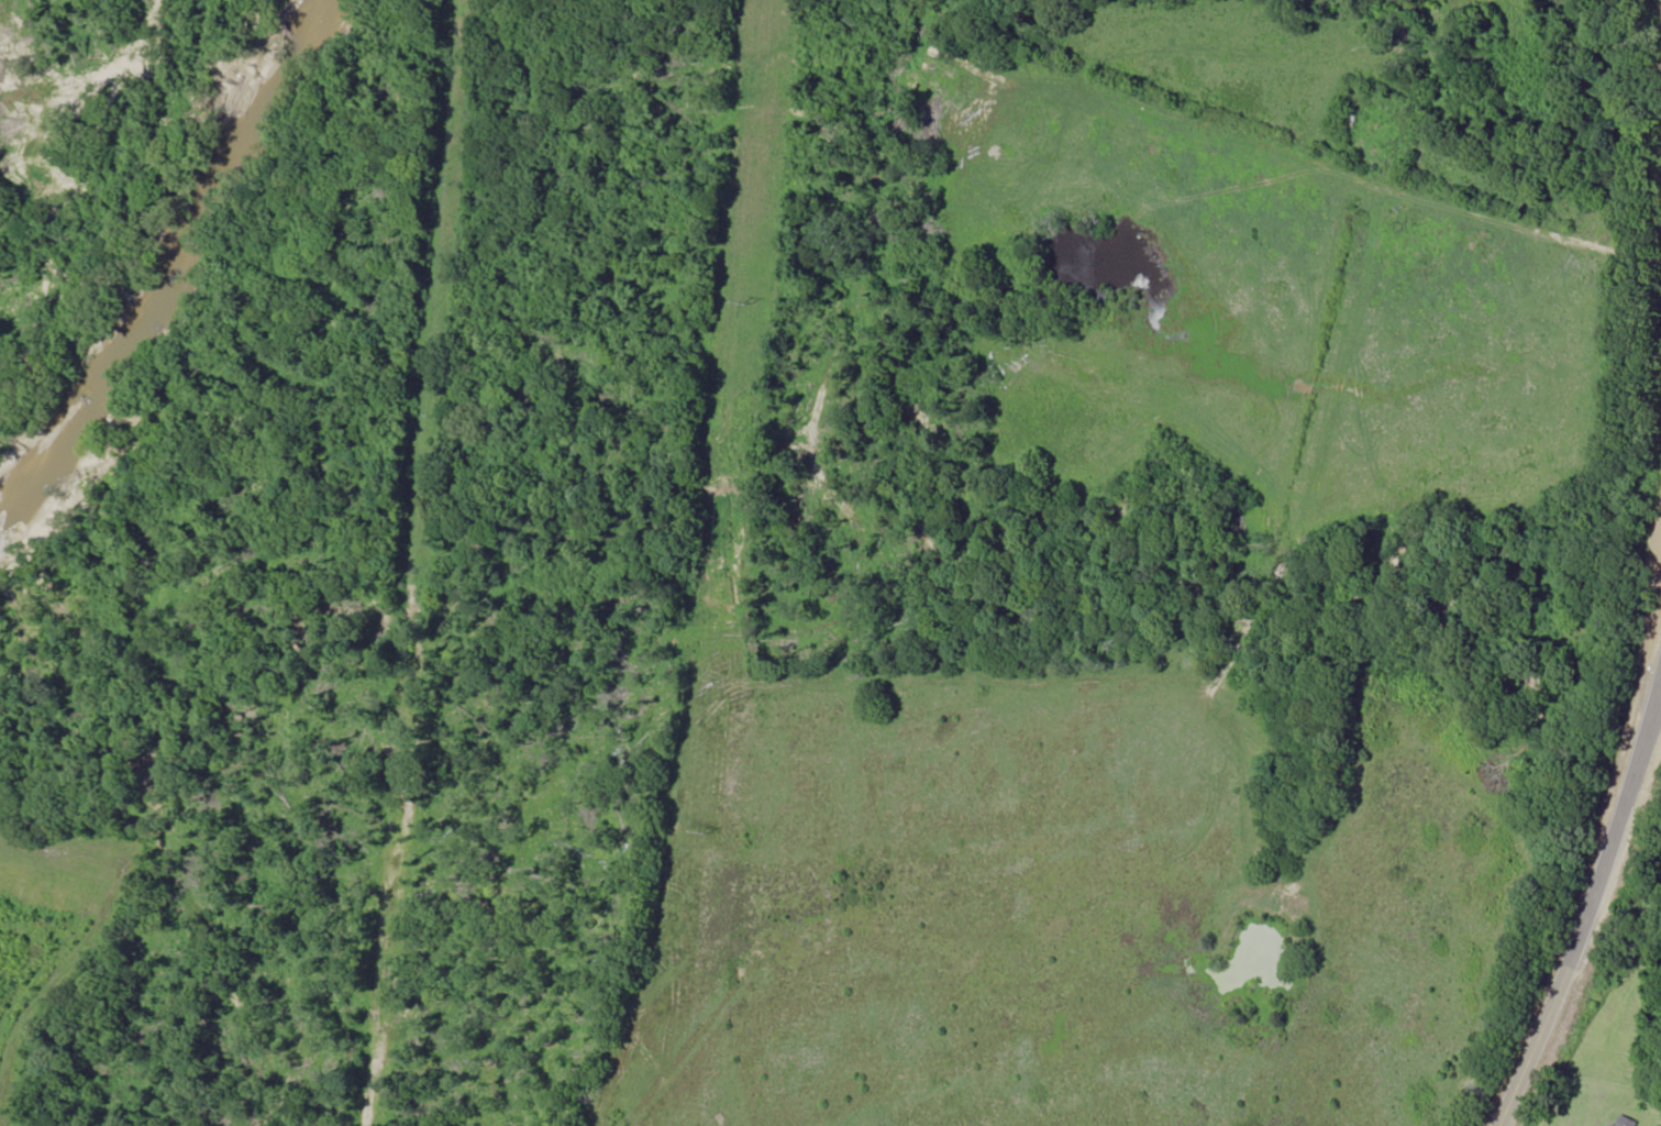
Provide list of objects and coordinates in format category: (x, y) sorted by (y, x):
road: (69, 99)
road: (1590, 925)
building: (1627, 1122)

